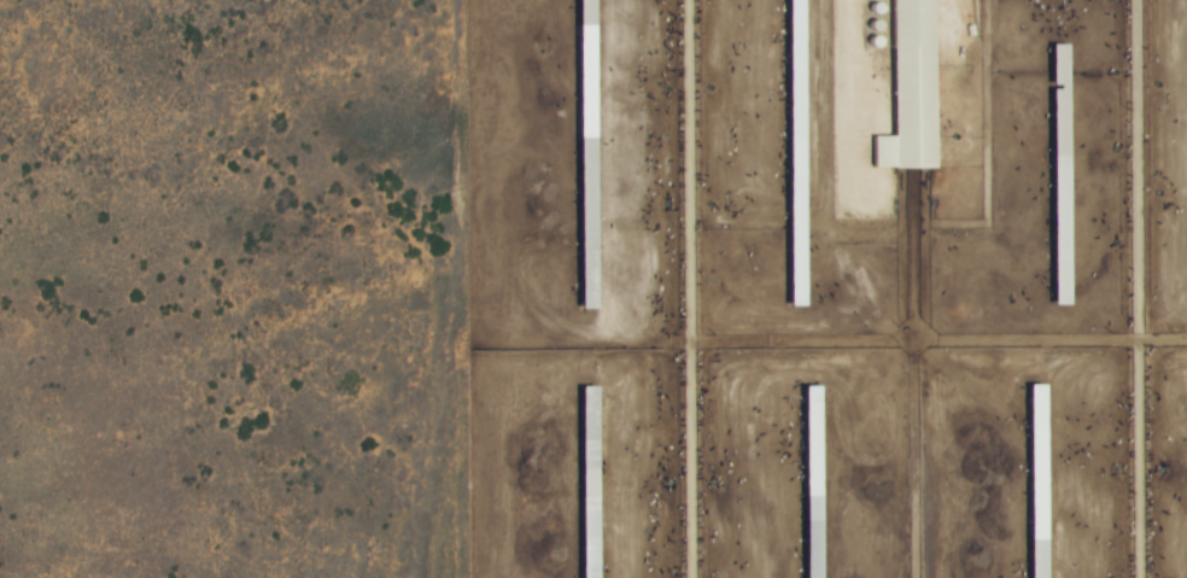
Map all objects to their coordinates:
building: (914, 91)
building: (1042, 432)

